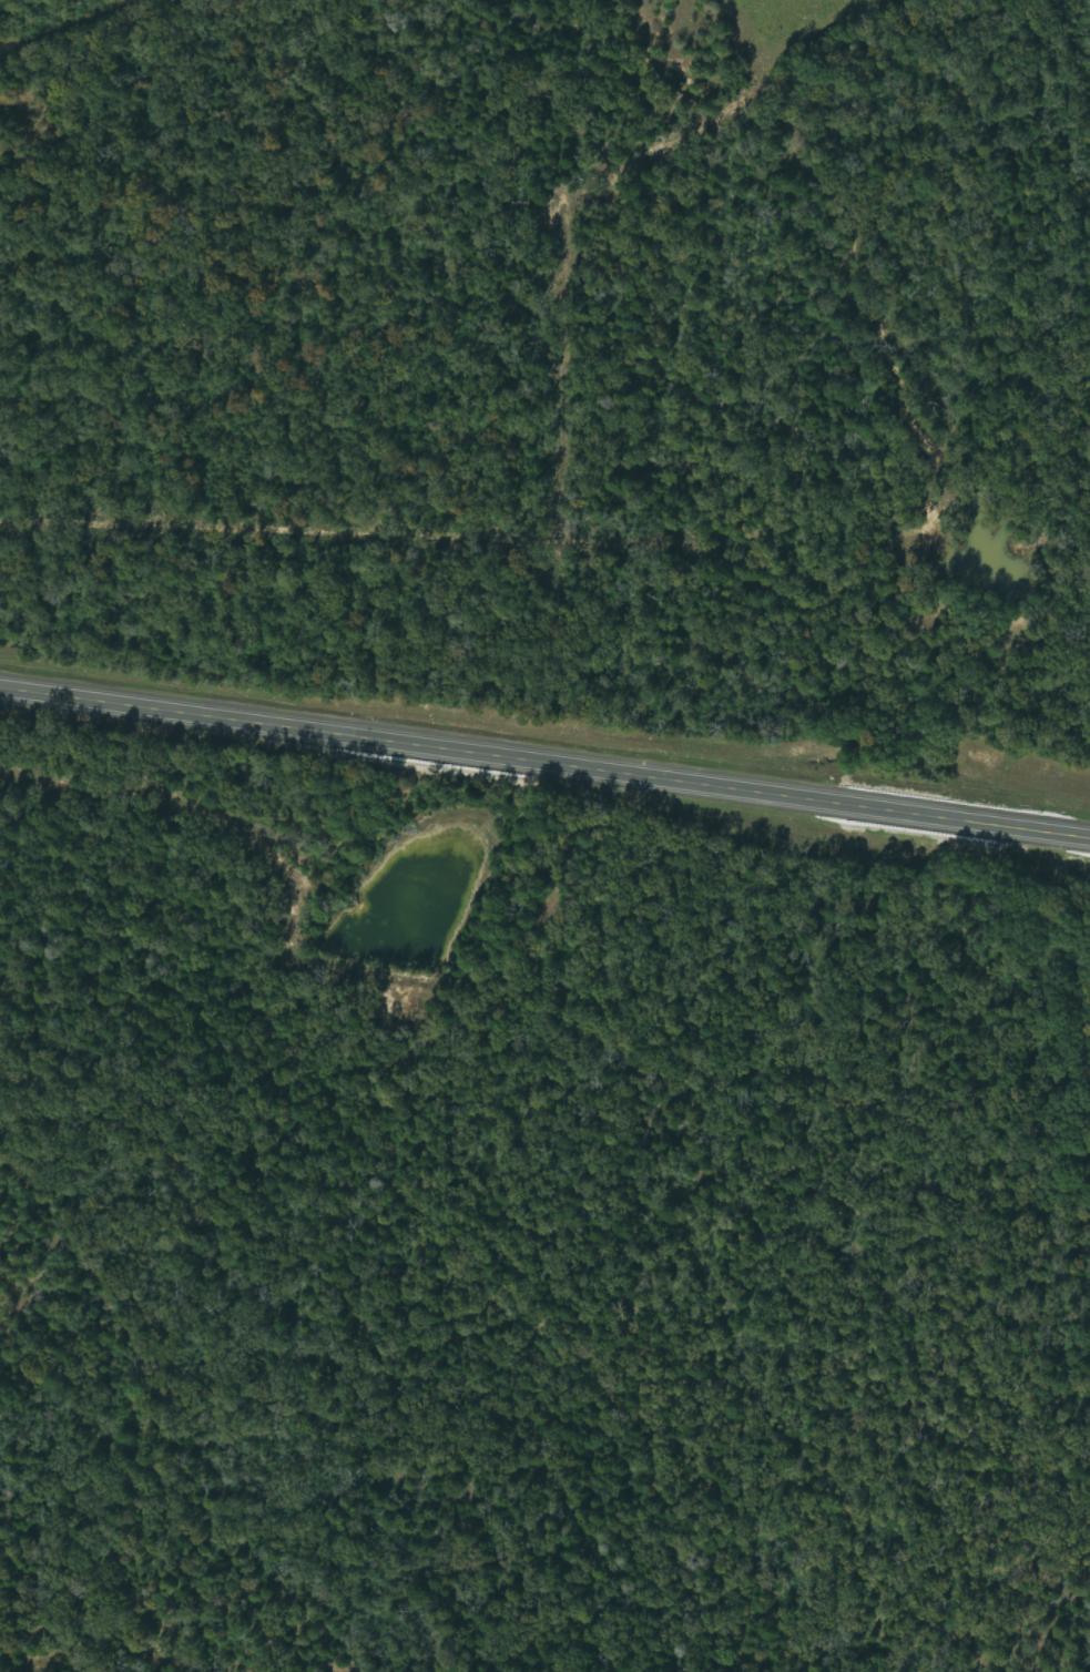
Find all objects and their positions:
road: (544, 769)

